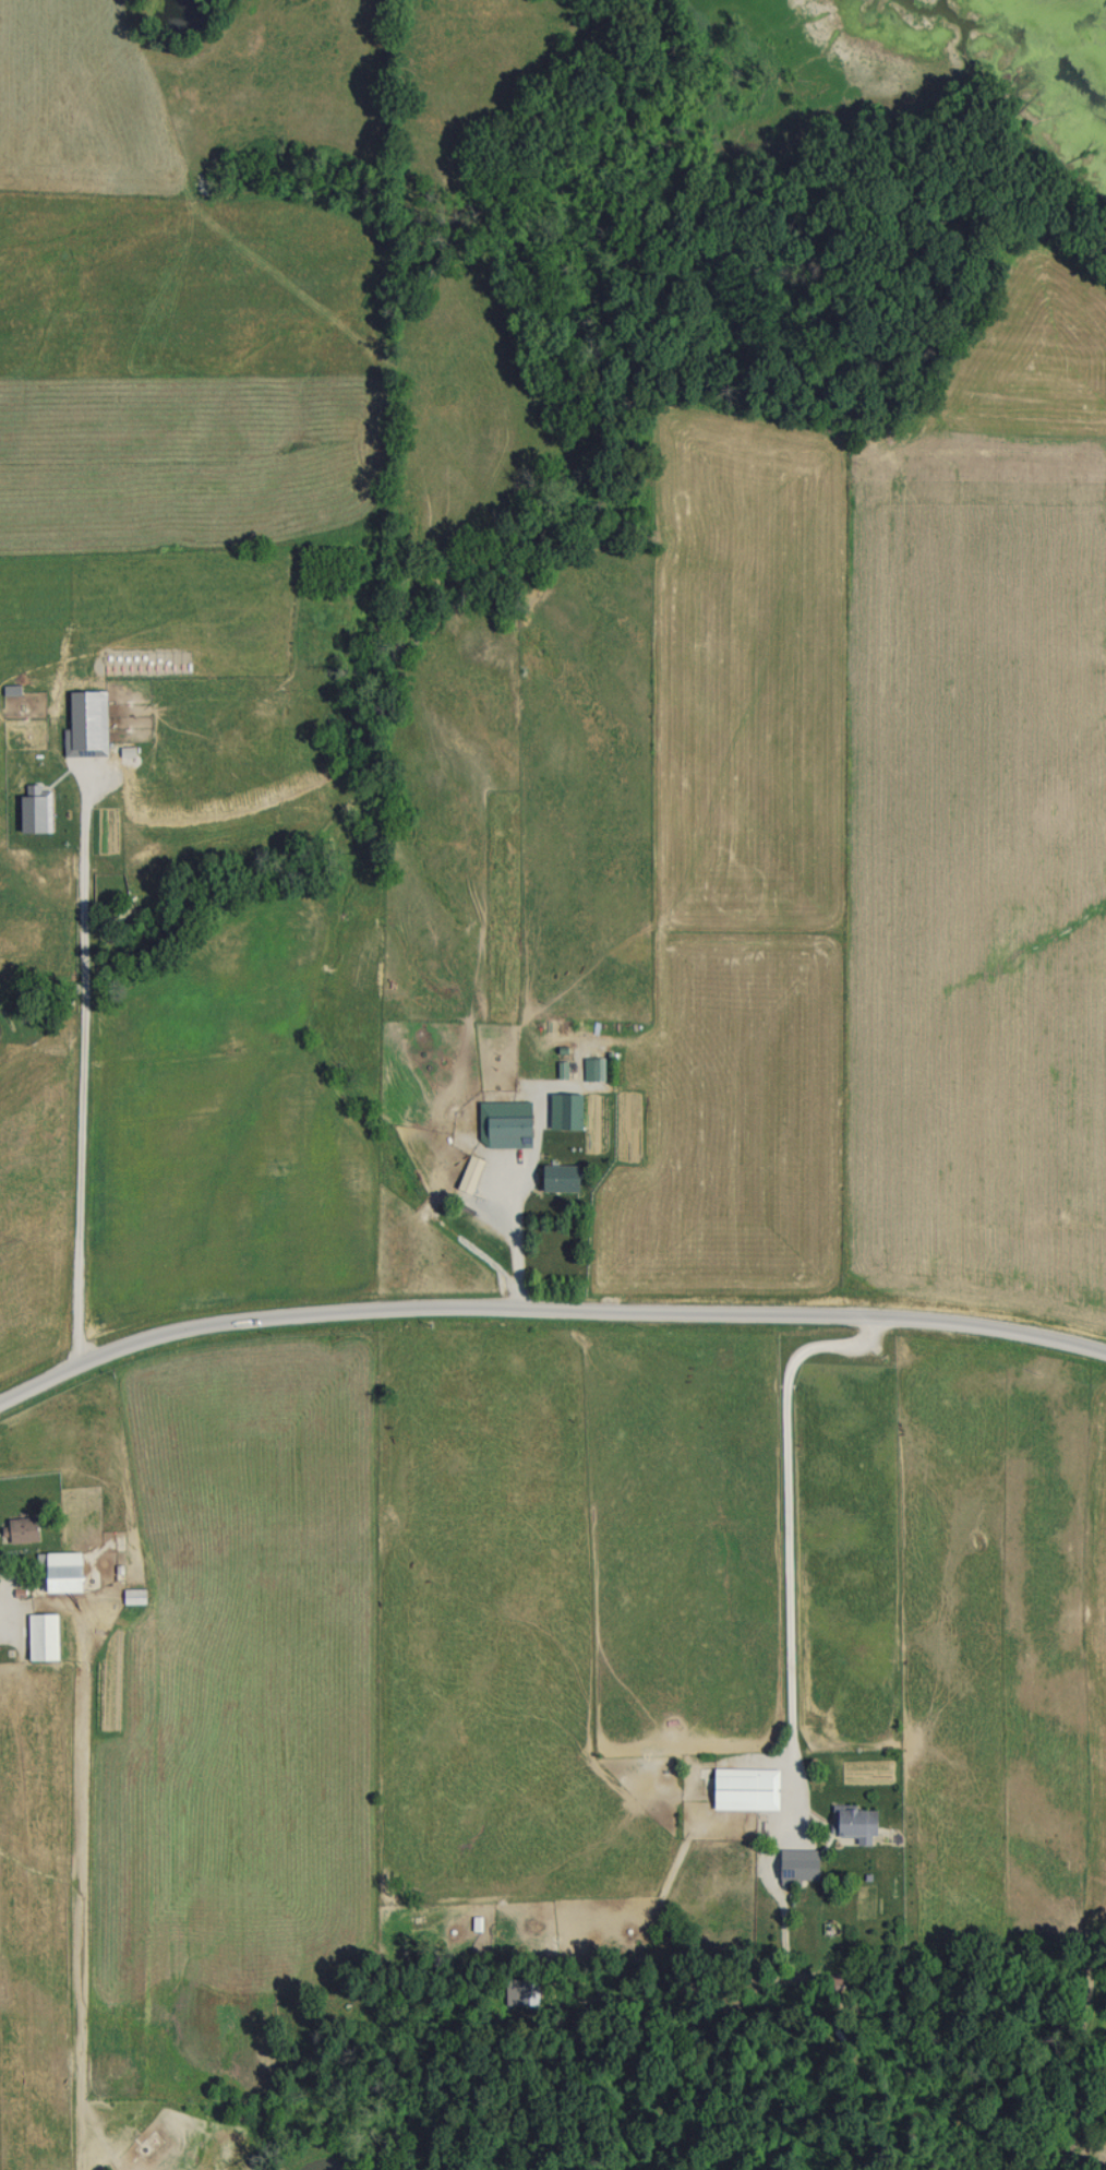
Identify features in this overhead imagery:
building: (592, 1068)
building: (560, 1070)
building: (506, 1132)
building: (468, 1175)
building: (556, 1178)
building: (390, 1253)
road: (543, 1312)
building: (19, 1529)
building: (58, 1571)
building: (132, 1595)
building: (39, 1636)
building: (743, 1788)
building: (853, 1823)

